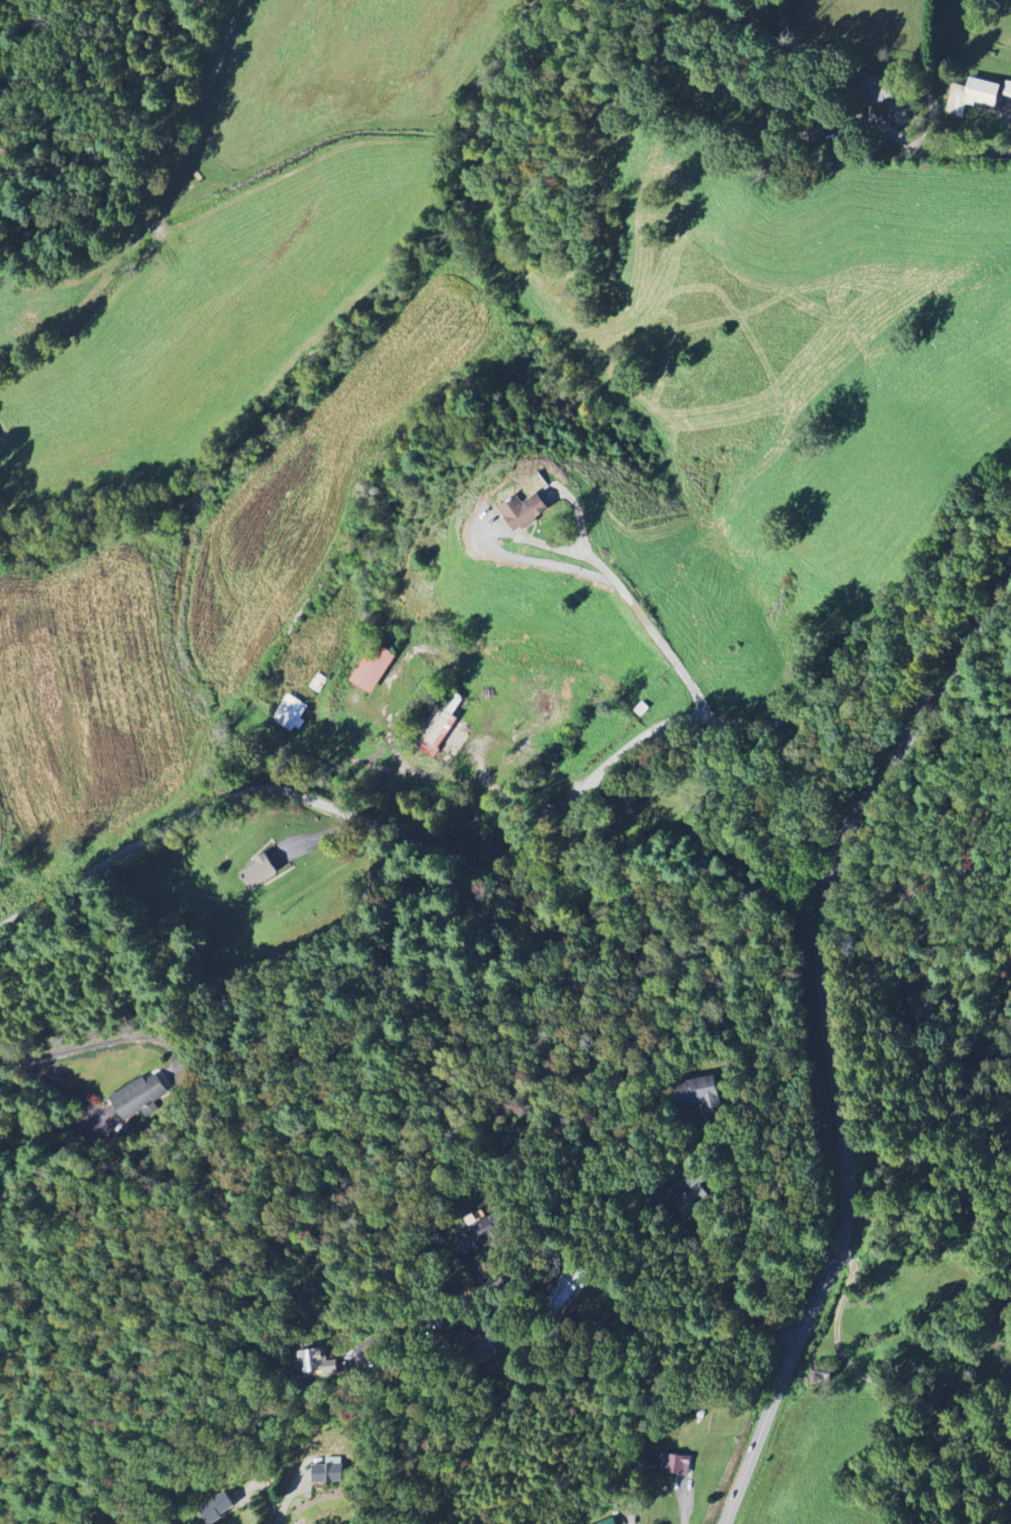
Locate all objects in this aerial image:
building: (973, 97)
road: (929, 144)
road: (651, 626)
building: (373, 668)
building: (290, 714)
building: (441, 725)
road: (573, 867)
building: (259, 872)
road: (831, 1034)
road: (94, 1039)
road: (57, 1086)
building: (701, 1097)
building: (140, 1098)
road: (673, 1171)
building: (479, 1237)
building: (567, 1290)
building: (318, 1365)
road: (885, 1426)
building: (675, 1465)
building: (328, 1474)
road: (839, 1491)
road: (684, 1503)
building: (216, 1508)
building: (611, 1523)
road: (630, 1523)

